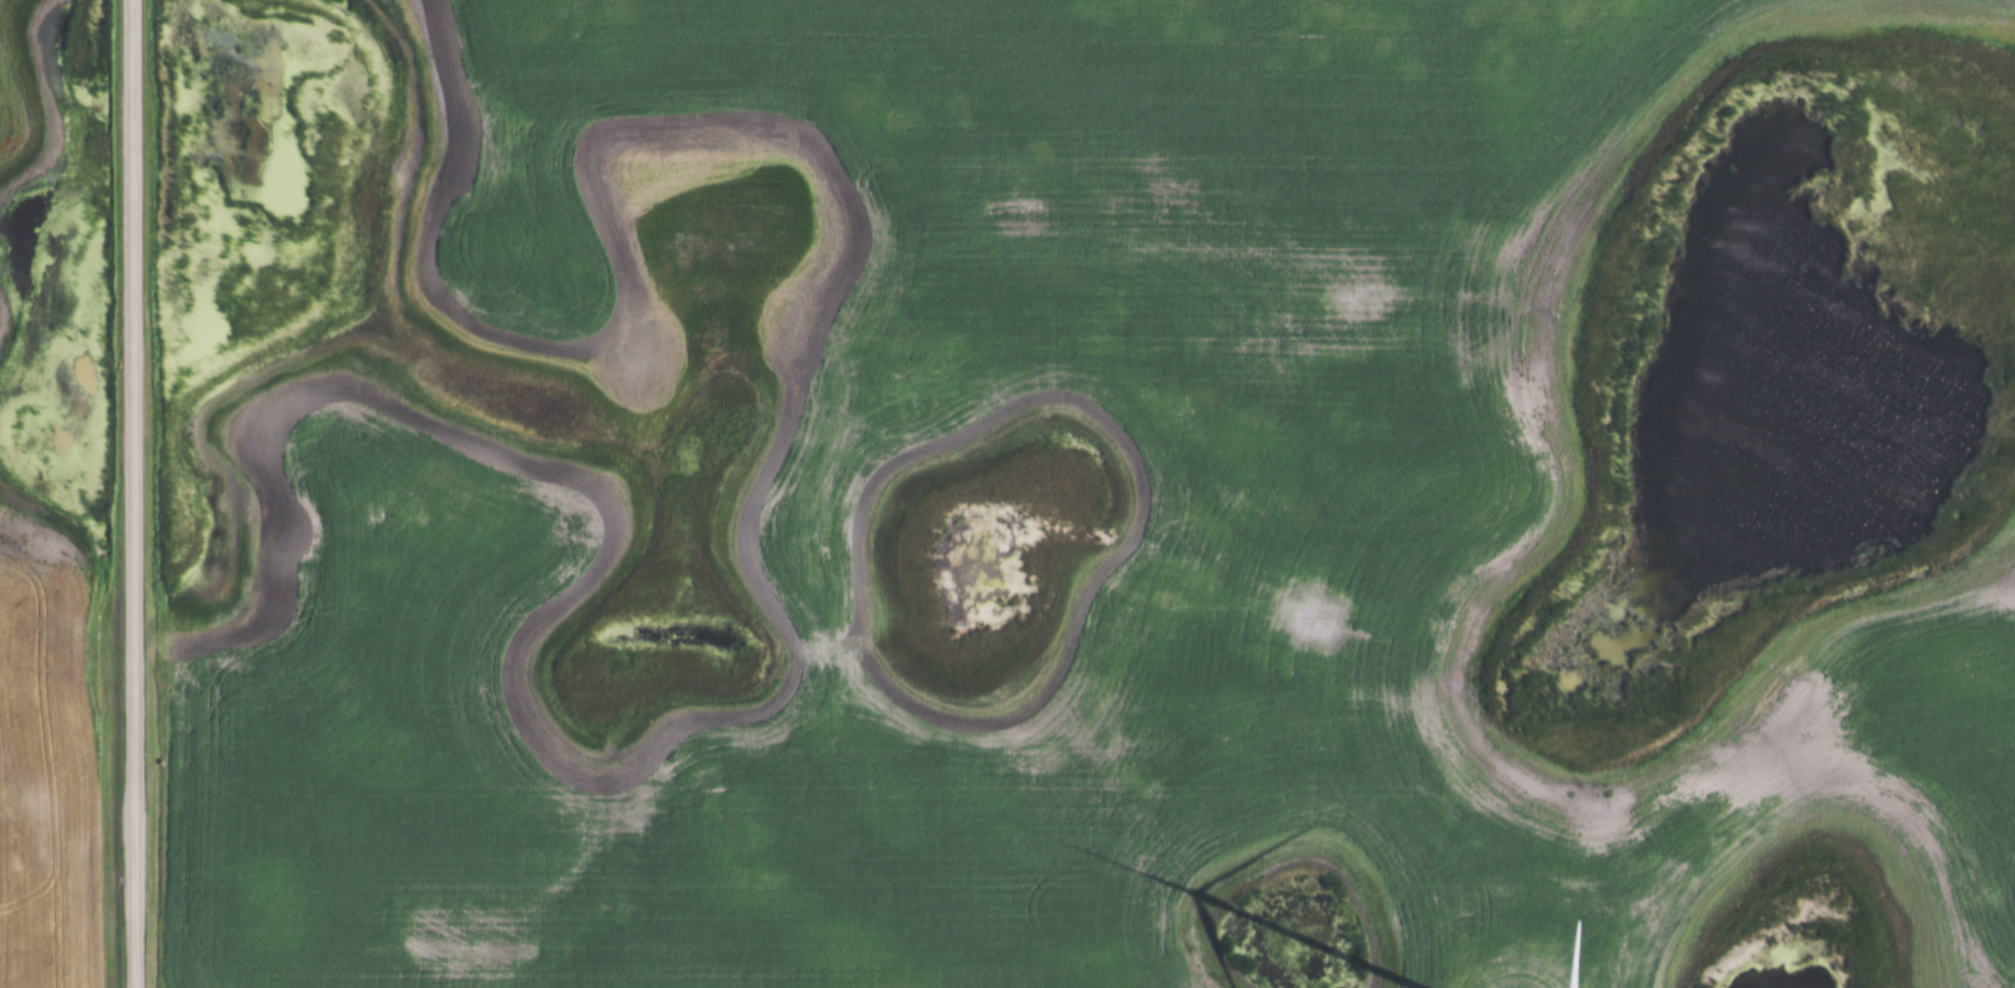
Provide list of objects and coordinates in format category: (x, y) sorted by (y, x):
road: (137, 493)

